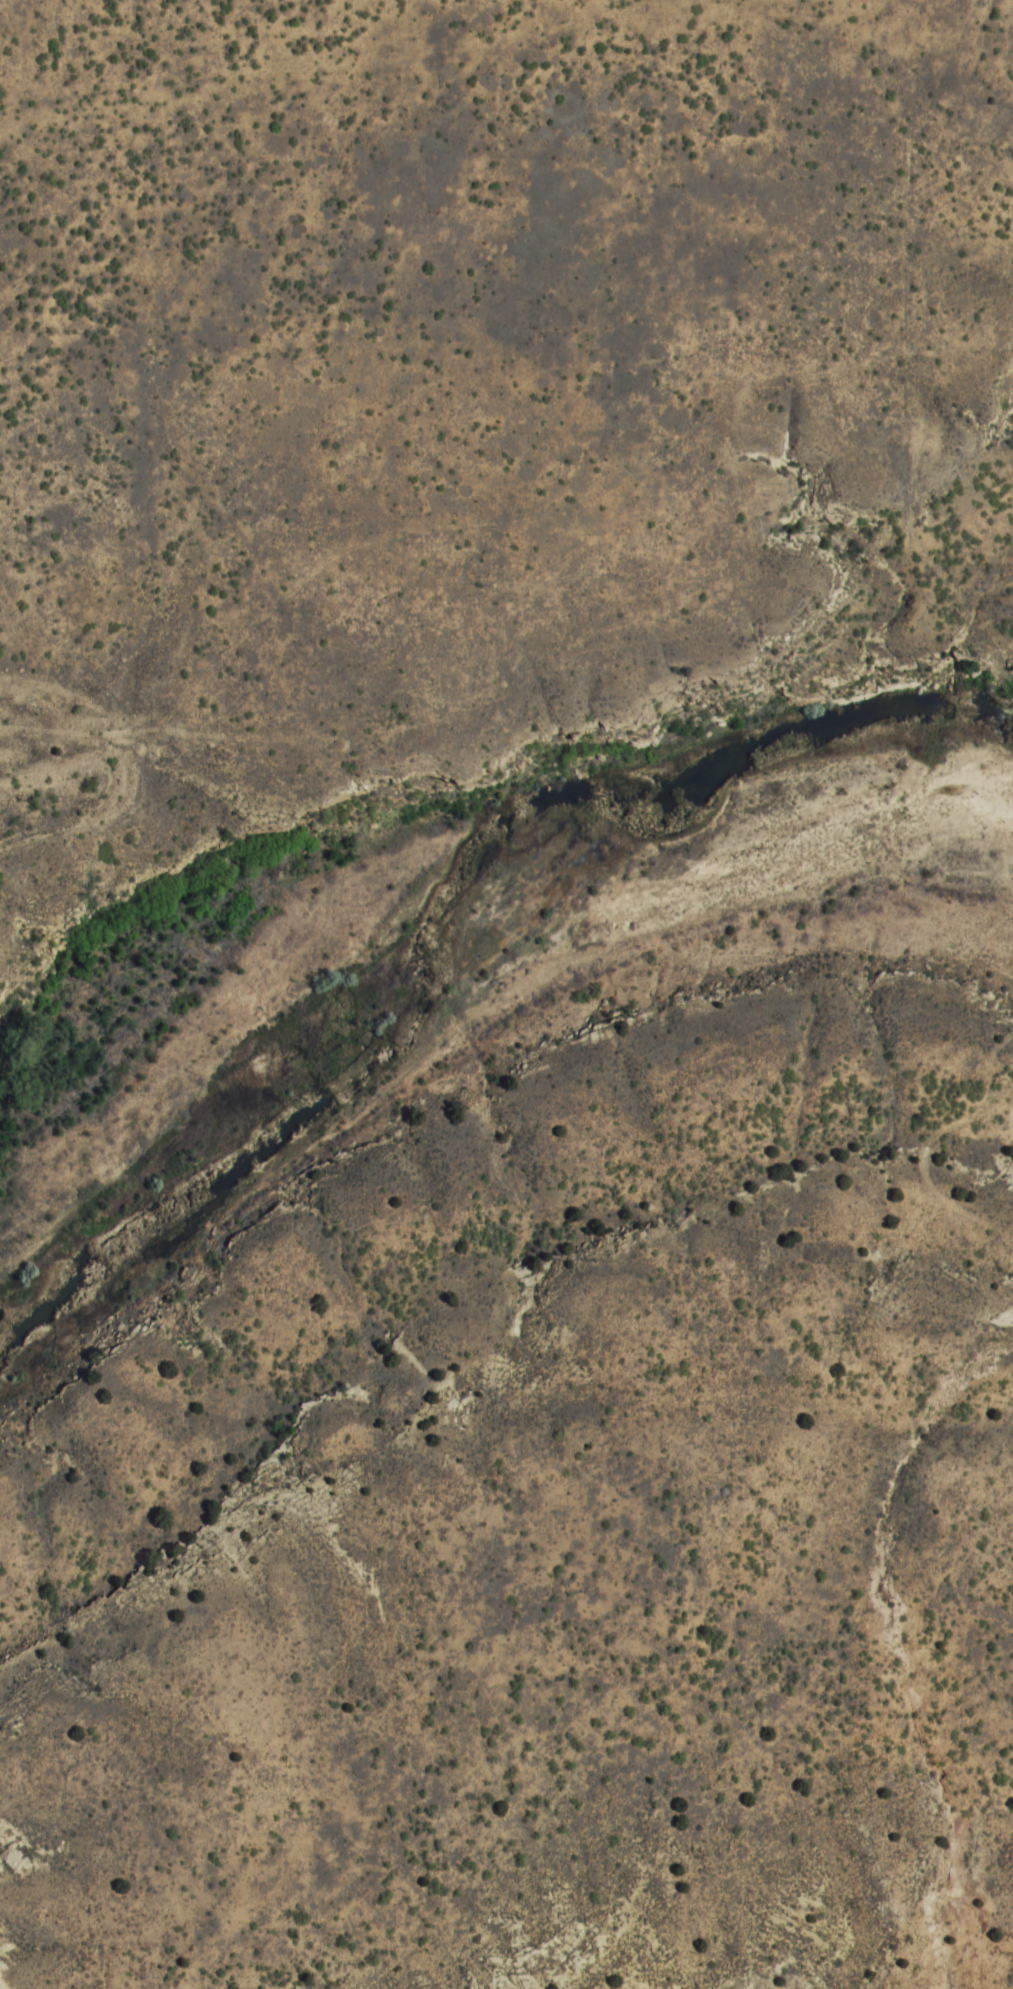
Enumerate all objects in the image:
river: (442, 901)

